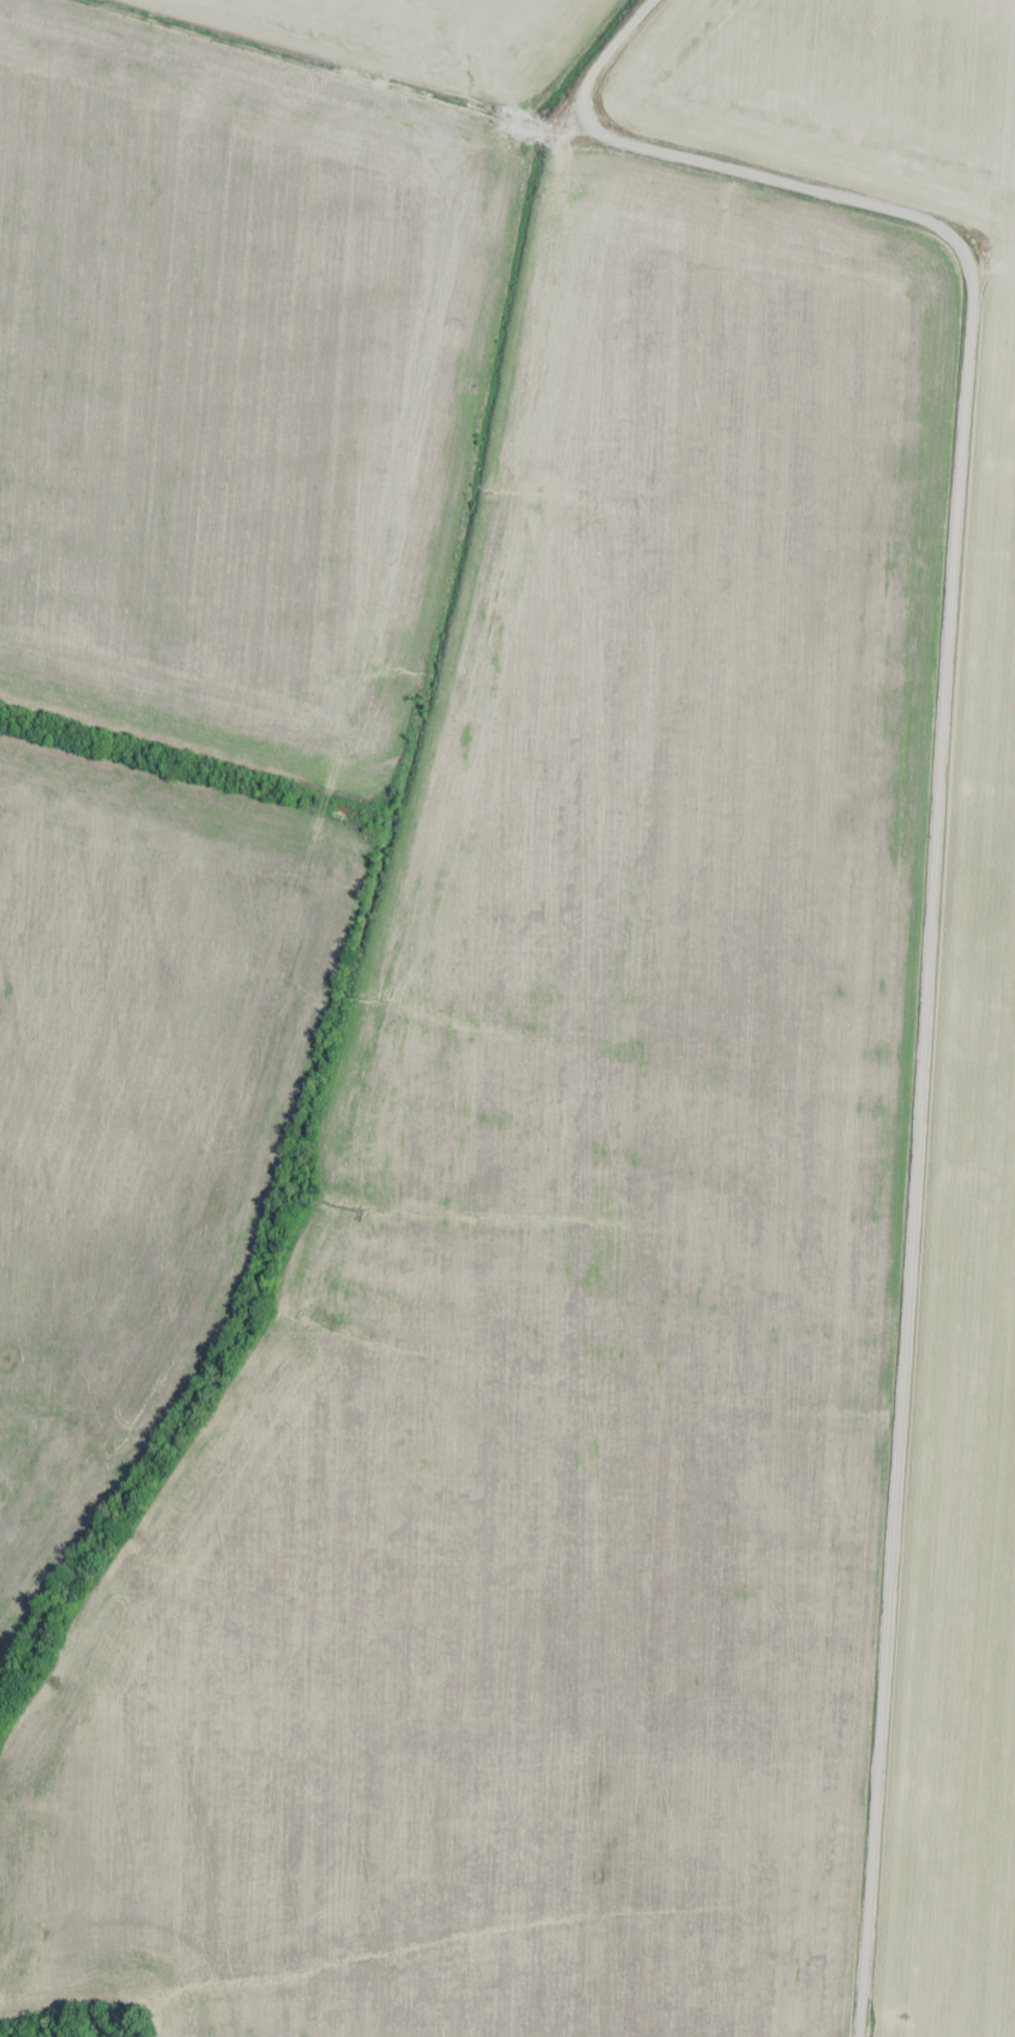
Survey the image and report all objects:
road: (935, 872)
crop: (971, 1165)

